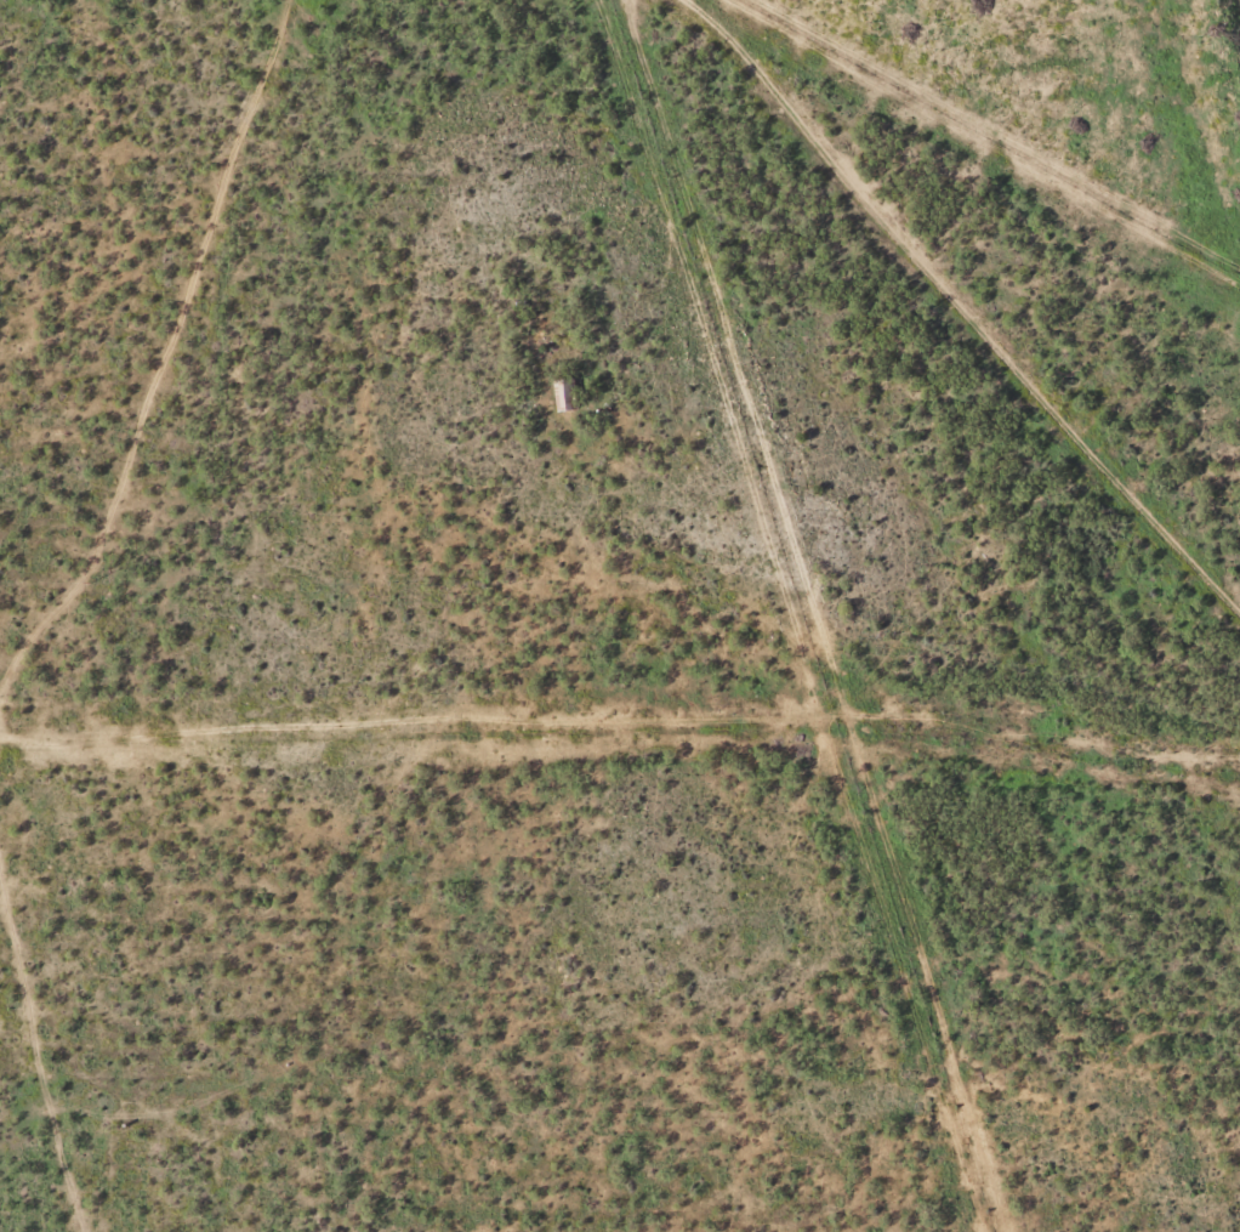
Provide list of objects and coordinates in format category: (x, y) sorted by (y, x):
road: (1026, 782)

